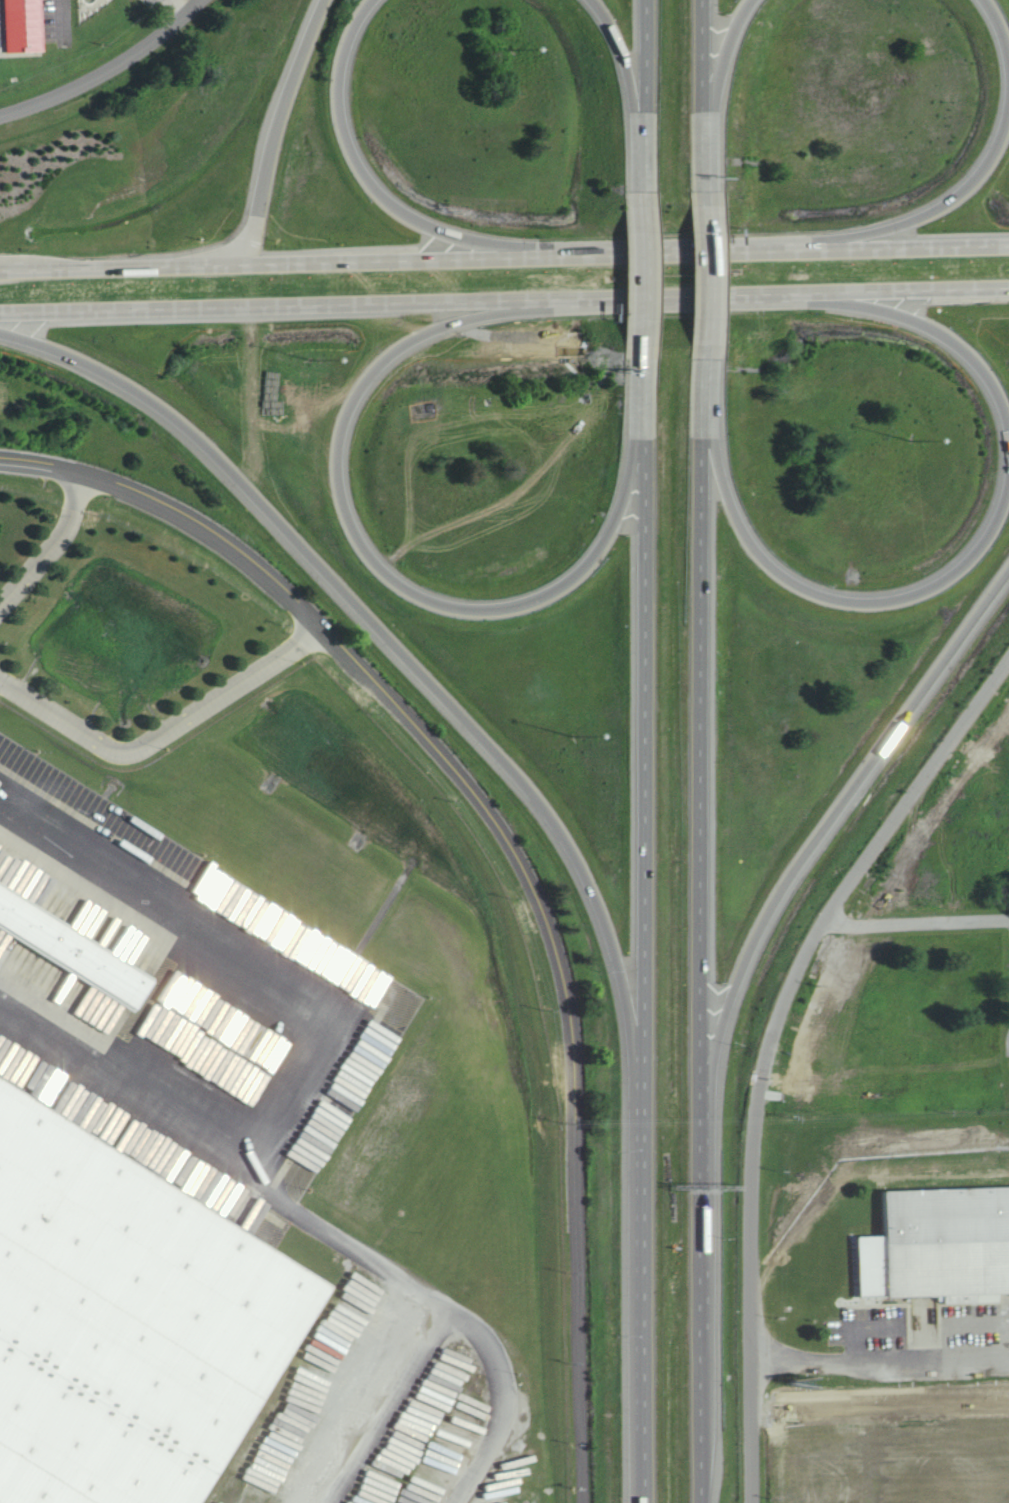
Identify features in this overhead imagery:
road: (183, 6)
building: (27, 25)
road: (999, 30)
road: (623, 68)
road: (722, 68)
road: (109, 71)
road: (645, 96)
road: (701, 96)
road: (275, 132)
road: (370, 185)
road: (927, 214)
road: (504, 257)
road: (645, 276)
road: (701, 276)
road: (784, 294)
road: (280, 308)
road: (908, 319)
road: (52, 550)
road: (372, 560)
road: (824, 597)
road: (394, 647)
road: (357, 664)
road: (164, 730)
road: (827, 827)
road: (915, 925)
road: (644, 931)
road: (700, 931)
building: (76, 946)
road: (769, 1047)
building: (941, 1246)
road: (580, 1259)
building: (124, 1314)
road: (883, 1360)

